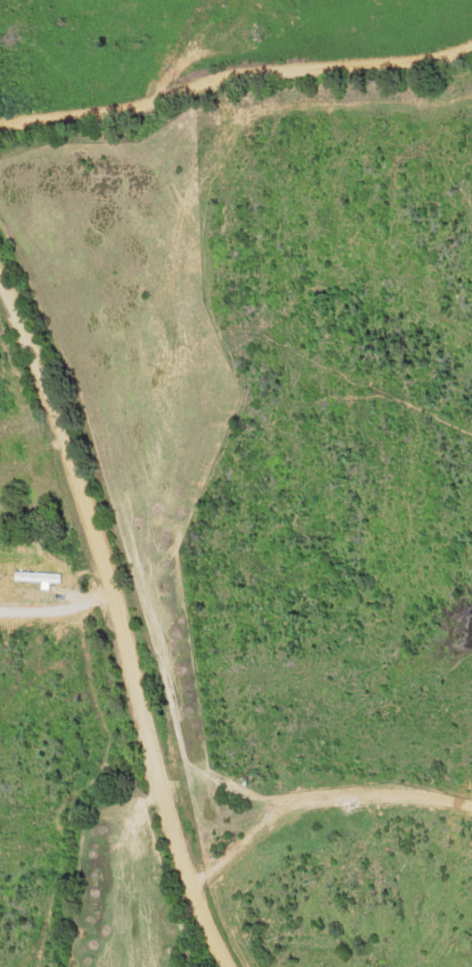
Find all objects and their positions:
road: (235, 77)
road: (122, 617)

